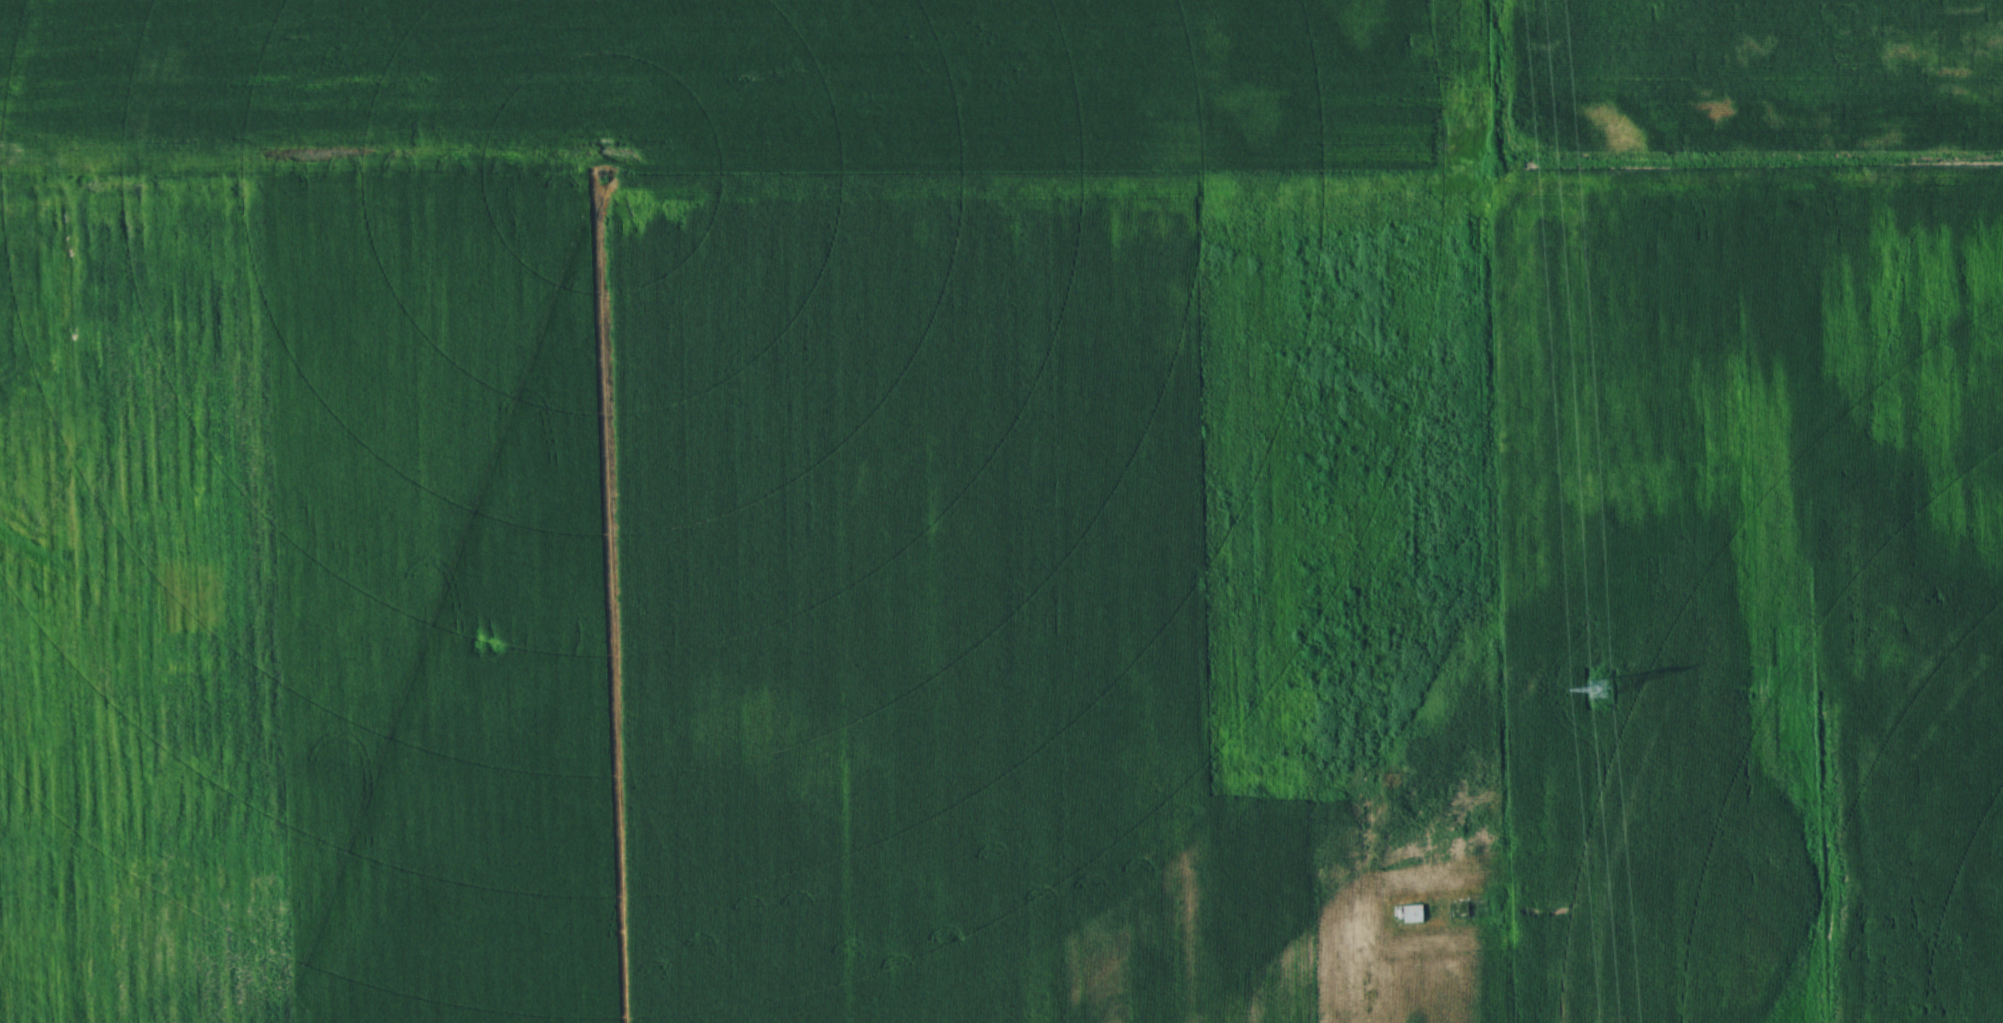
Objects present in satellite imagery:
power tower: (1602, 691)
building: (1403, 915)

